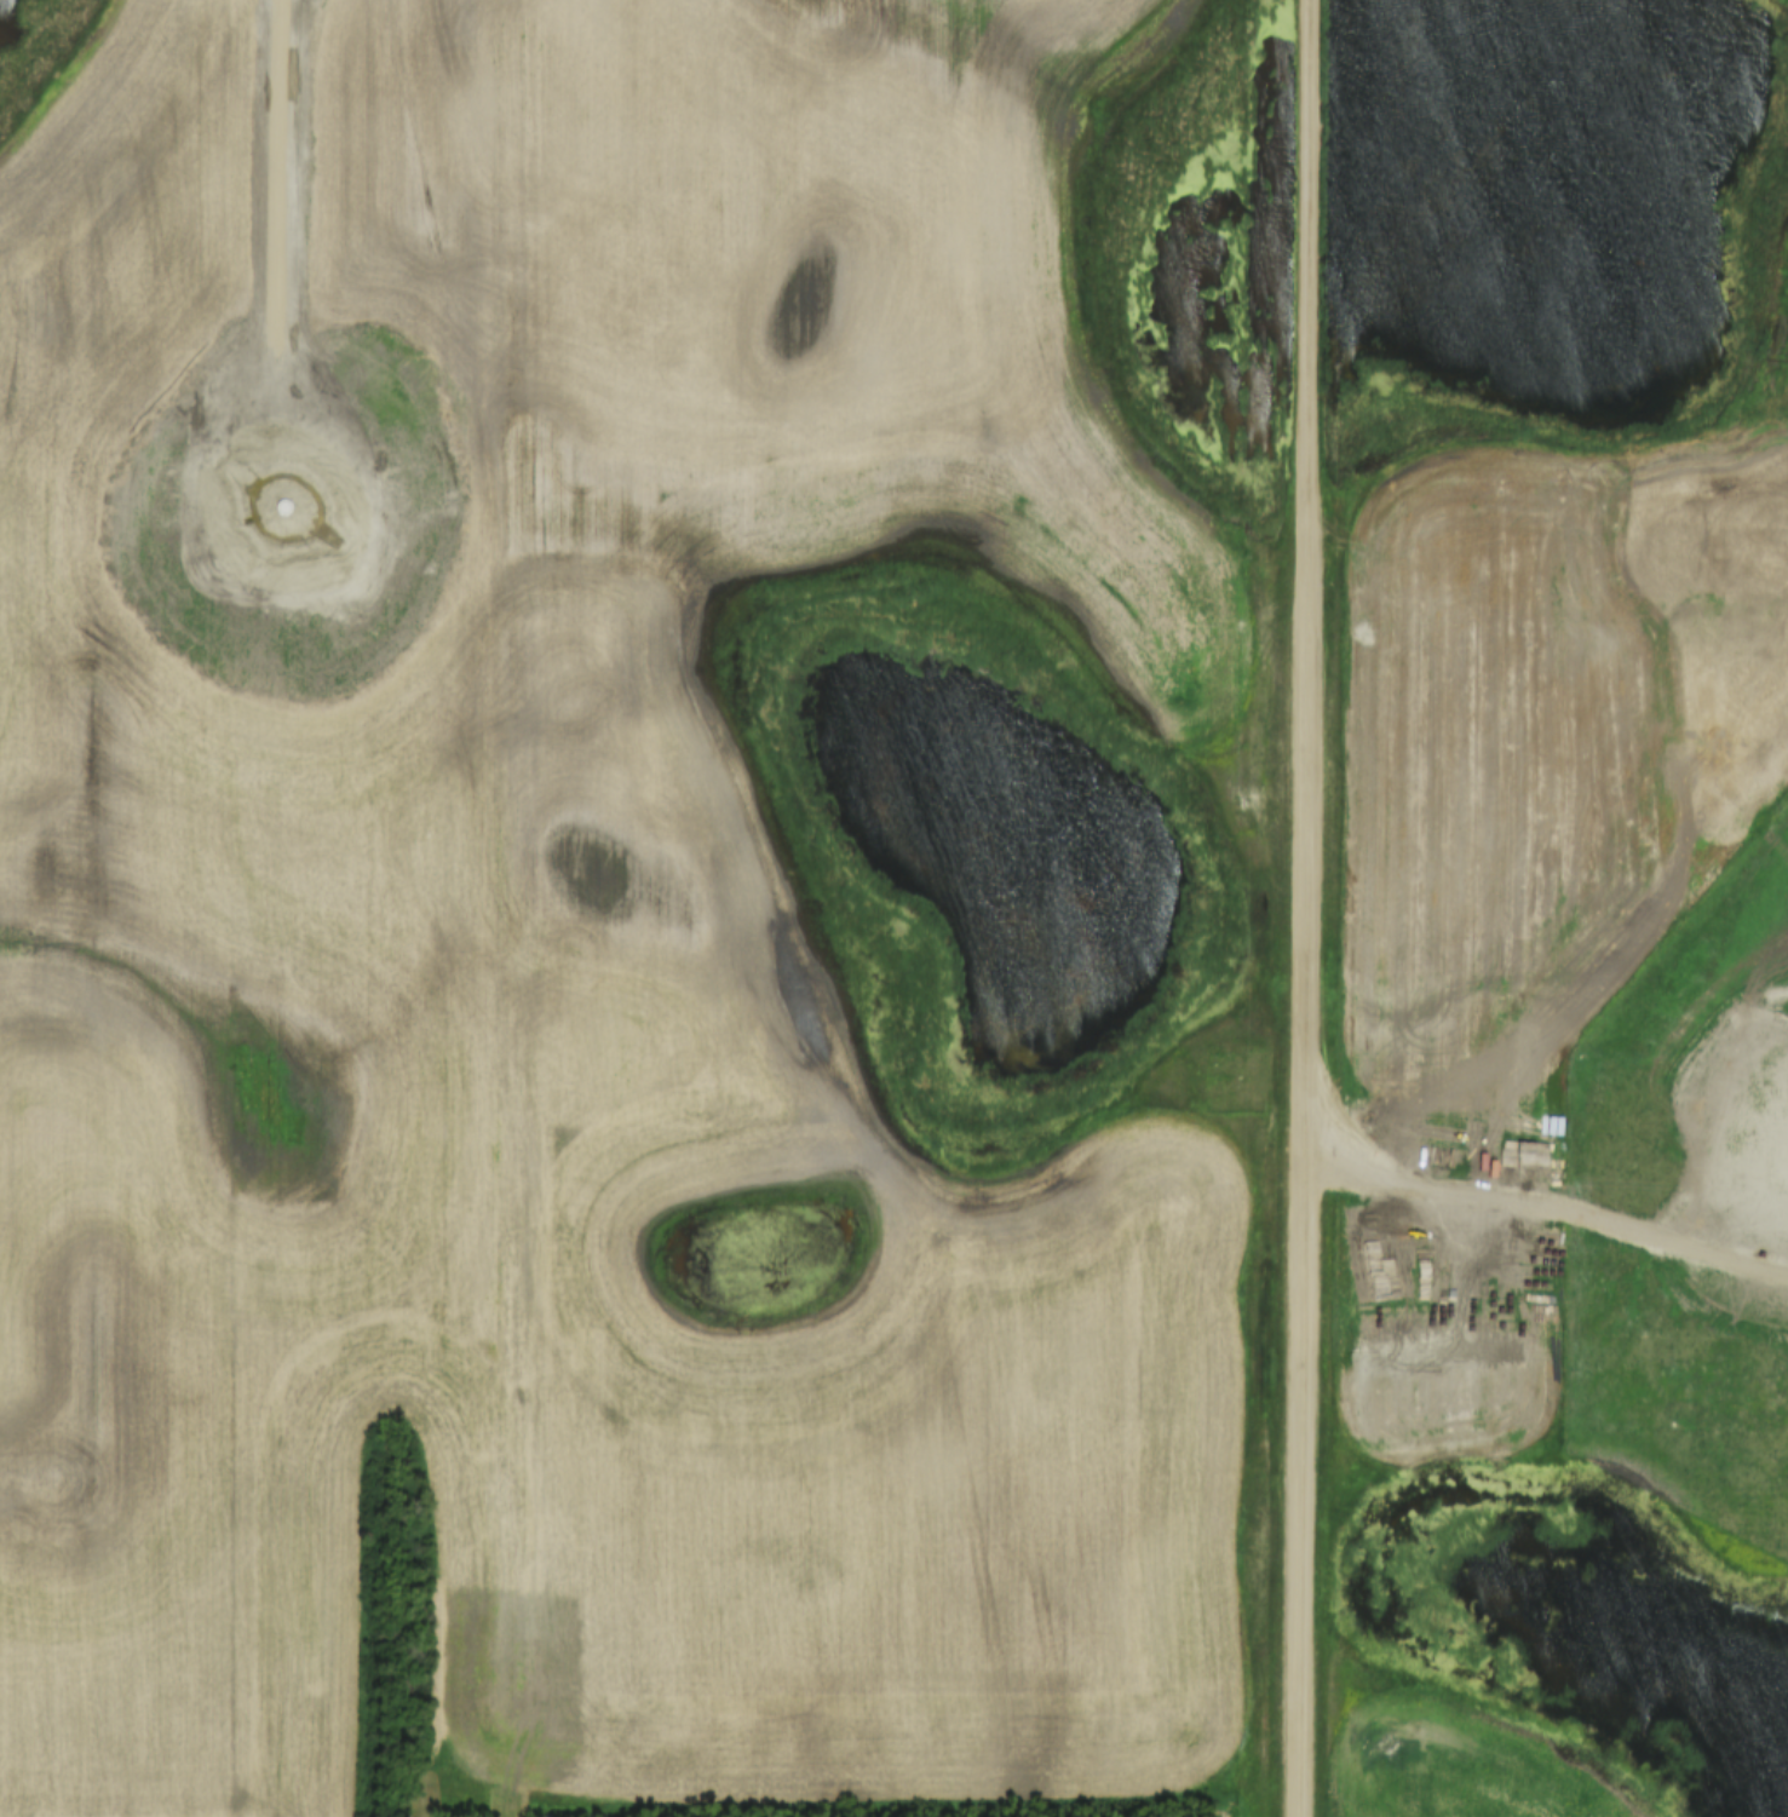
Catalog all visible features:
wind turbine: (289, 507)
road: (1305, 908)
building: (1070, 1714)
building: (1000, 1718)

